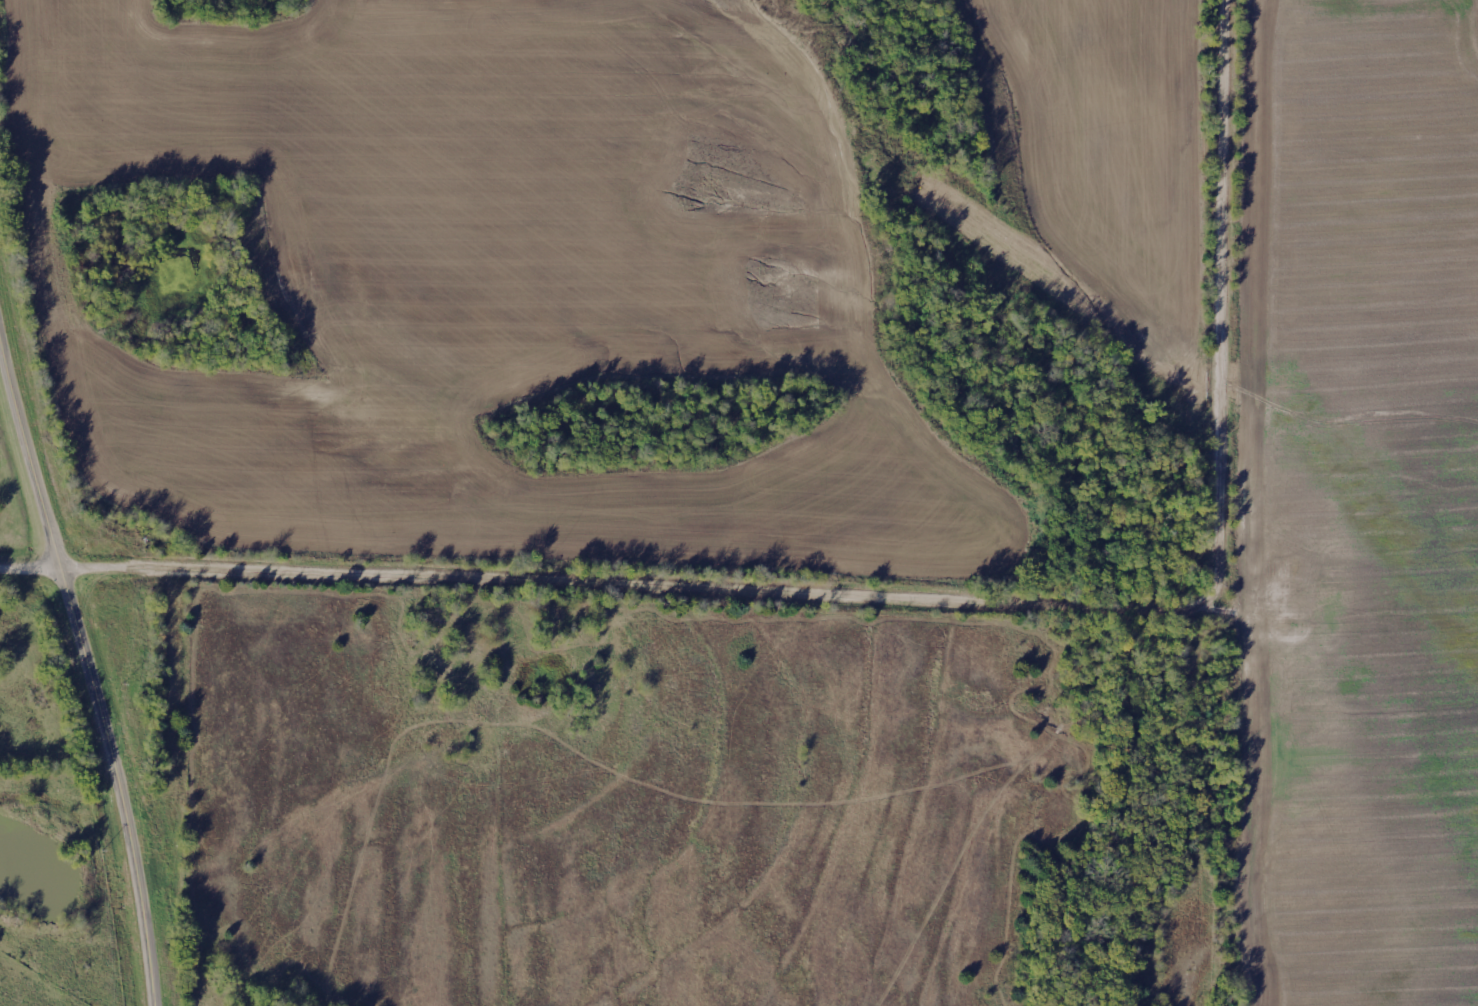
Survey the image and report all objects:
road: (33, 557)
road: (936, 588)
road: (87, 650)

